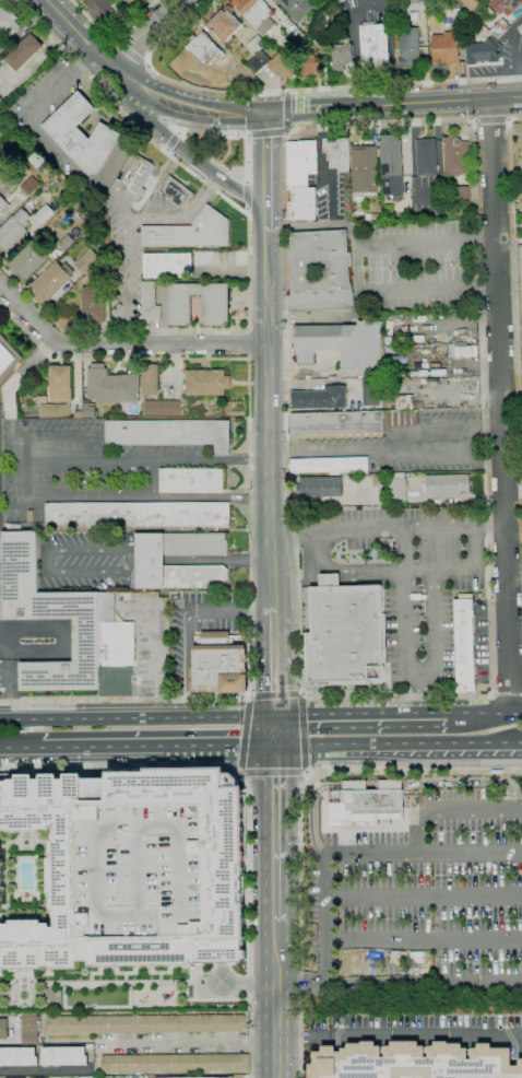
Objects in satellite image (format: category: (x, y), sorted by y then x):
building: (275, 0)
building: (130, 1)
building: (340, 1)
building: (512, 2)
building: (415, 4)
building: (472, 4)
building: (99, 8)
building: (297, 8)
building: (257, 14)
building: (496, 15)
building: (483, 19)
building: (8, 23)
building: (225, 23)
building: (499, 27)
building: (520, 28)
road: (78, 32)
road: (142, 32)
building: (295, 33)
road: (111, 38)
building: (322, 39)
building: (254, 43)
building: (376, 46)
building: (408, 47)
building: (204, 48)
building: (446, 48)
building: (25, 51)
building: (483, 51)
road: (129, 52)
building: (342, 54)
building: (311, 63)
building: (272, 65)
building: (240, 68)
building: (247, 78)
road: (285, 90)
road: (430, 102)
road: (181, 106)
building: (12, 108)
road: (302, 110)
traffic signals: (265, 113)
road: (491, 119)
road: (285, 130)
building: (82, 134)
road: (170, 141)
road: (179, 148)
building: (337, 153)
building: (455, 155)
building: (392, 156)
building: (426, 156)
building: (363, 161)
road: (265, 164)
road: (246, 167)
building: (2, 172)
building: (138, 177)
building: (301, 178)
building: (29, 186)
building: (177, 191)
building: (462, 192)
road: (246, 195)
building: (520, 202)
building: (3, 204)
road: (246, 211)
building: (44, 213)
building: (376, 216)
road: (266, 224)
road: (317, 227)
building: (13, 230)
building: (191, 232)
building: (62, 241)
road: (248, 253)
building: (28, 259)
building: (87, 261)
building: (166, 263)
road: (357, 268)
building: (320, 271)
building: (52, 279)
building: (150, 303)
building: (93, 304)
road: (359, 304)
building: (216, 309)
road: (515, 310)
road: (310, 315)
building: (389, 317)
building: (521, 325)
road: (266, 331)
building: (407, 336)
building: (391, 338)
road: (247, 342)
building: (343, 343)
road: (121, 345)
road: (269, 355)
building: (8, 358)
building: (394, 367)
building: (150, 379)
building: (206, 383)
building: (111, 385)
building: (57, 391)
building: (371, 391)
building: (320, 398)
building: (416, 398)
building: (399, 401)
building: (417, 403)
road: (499, 405)
building: (162, 408)
building: (78, 410)
building: (88, 410)
building: (402, 418)
road: (269, 419)
building: (336, 424)
building: (170, 433)
road: (59, 436)
road: (388, 447)
parking lot: (82, 458)
road: (146, 459)
building: (330, 465)
building: (378, 479)
building: (191, 480)
building: (447, 485)
building: (321, 487)
building: (396, 488)
road: (130, 496)
building: (138, 514)
road: (251, 514)
building: (13, 527)
building: (181, 528)
road: (387, 528)
building: (387, 542)
road: (48, 559)
road: (201, 560)
building: (150, 561)
road: (311, 569)
road: (347, 570)
road: (459, 570)
road: (348, 574)
road: (329, 578)
road: (405, 605)
road: (229, 607)
building: (49, 618)
road: (432, 626)
building: (344, 633)
building: (114, 635)
road: (63, 640)
building: (464, 646)
road: (186, 660)
road: (273, 660)
road: (156, 665)
building: (220, 665)
road: (8, 682)
building: (117, 682)
road: (490, 689)
road: (419, 691)
road: (300, 692)
road: (275, 694)
road: (507, 694)
road: (251, 695)
road: (304, 696)
road: (248, 700)
road: (485, 712)
road: (361, 713)
traffic signals: (274, 714)
road: (137, 715)
road: (274, 730)
road: (245, 733)
road: (304, 736)
road: (398, 746)
traffic signals: (274, 747)
road: (158, 749)
road: (21, 751)
road: (238, 768)
road: (242, 772)
road: (276, 773)
road: (308, 774)
road: (389, 784)
building: (367, 802)
road: (249, 804)
road: (449, 809)
road: (300, 818)
road: (275, 833)
road: (360, 854)
building: (143, 870)
parking lot: (143, 870)
building: (224, 874)
road: (425, 895)
parking lot: (418, 902)
road: (425, 939)
road: (398, 982)
road: (275, 999)
building: (29, 1023)
building: (147, 1023)
building: (3, 1029)
road: (399, 1035)
road: (190, 1040)
building: (17, 1056)
building: (63, 1056)
building: (413, 1062)
building: (175, 1063)
road: (43, 1069)
building: (16, 1077)
building: (39, 1077)
building: (85, 1077)

